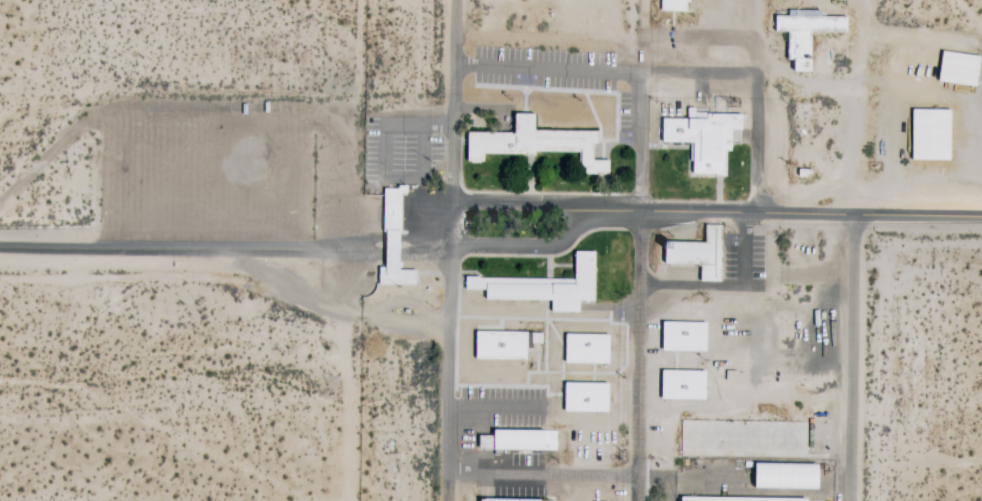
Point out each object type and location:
building: (673, 5)
building: (805, 34)
building: (906, 58)
building: (702, 138)
building: (931, 140)
building: (540, 144)
road: (708, 207)
building: (392, 242)
road: (225, 246)
road: (449, 250)
building: (697, 255)
building: (543, 288)
building: (682, 337)
building: (499, 347)
building: (585, 350)
building: (681, 386)
building: (584, 398)
building: (518, 441)
building: (739, 499)
building: (516, 500)

